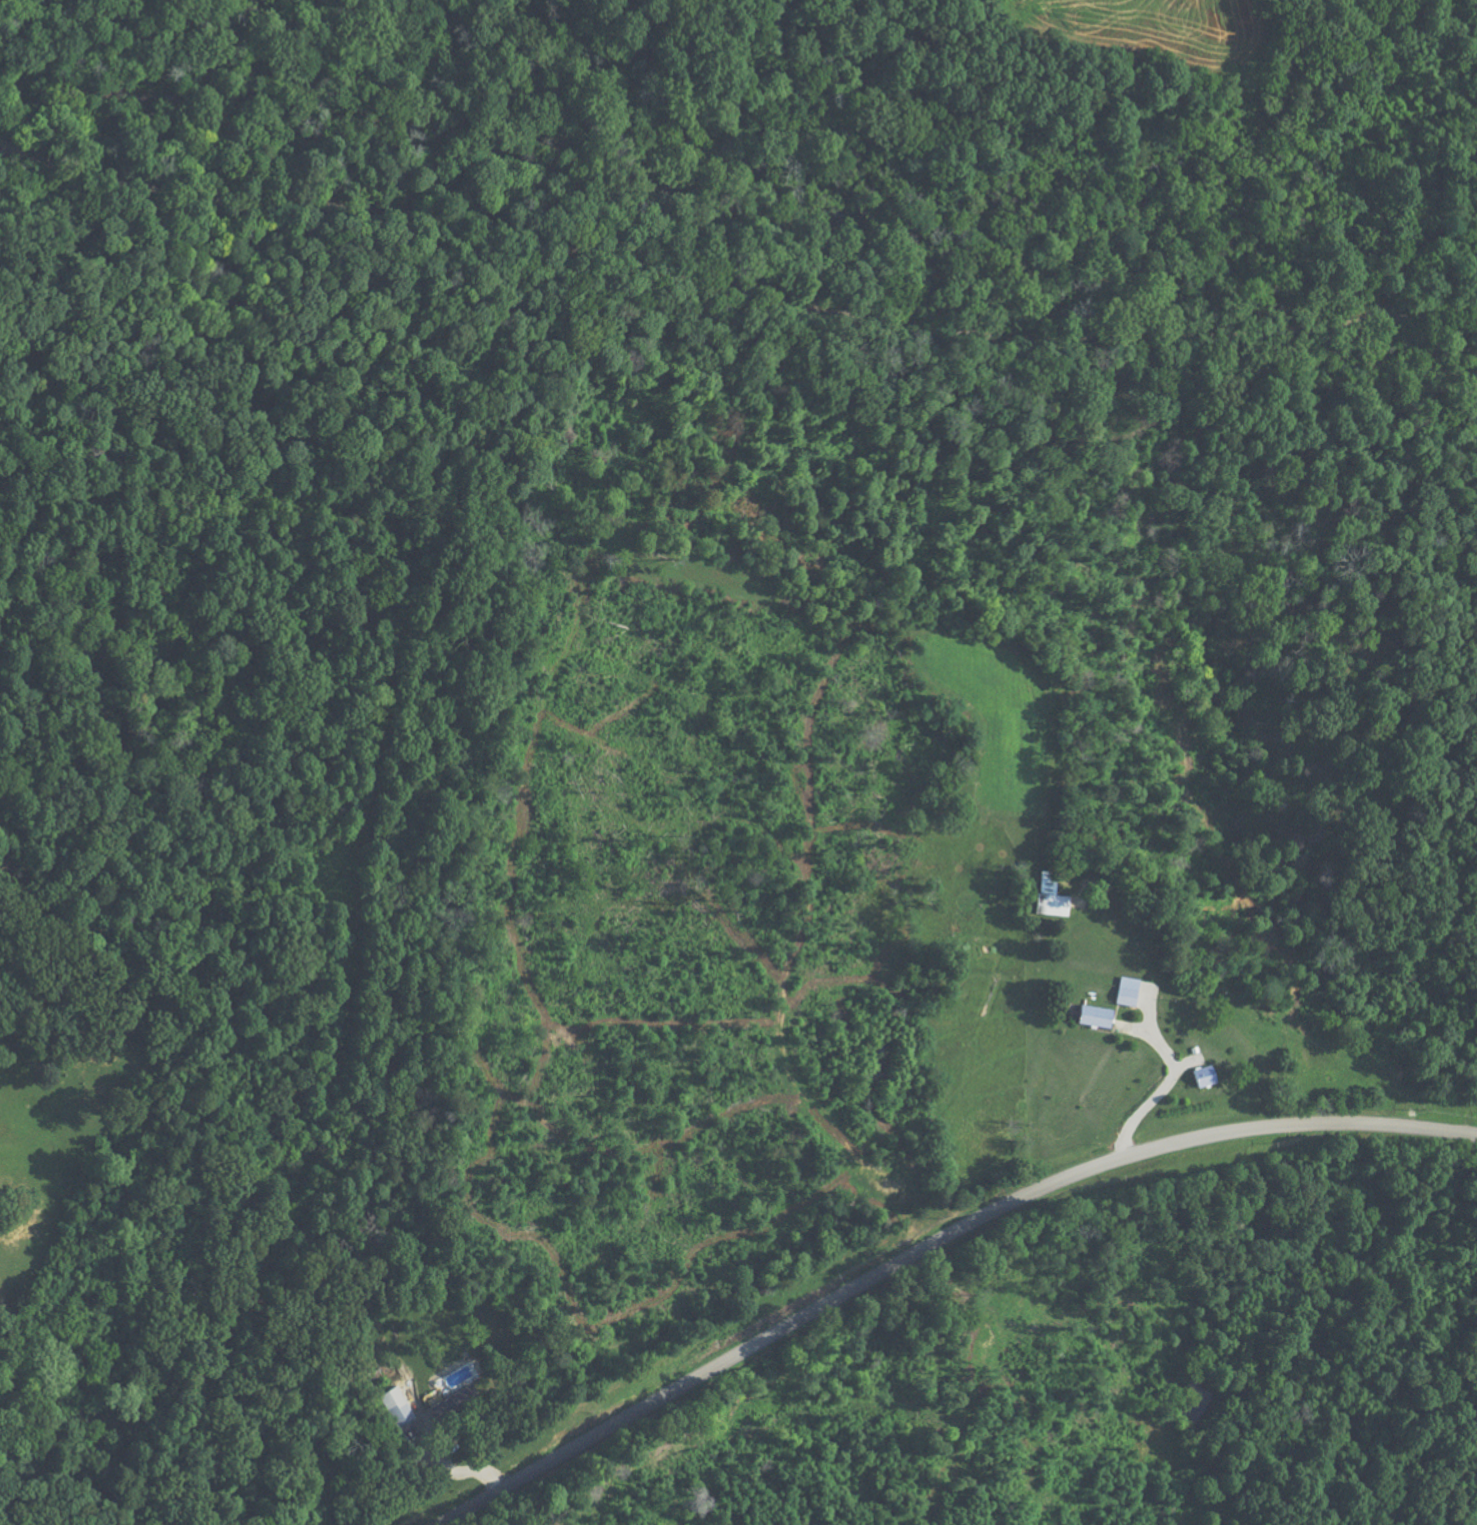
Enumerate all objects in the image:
road: (1248, 334)
road: (1169, 1085)
park: (35, 1134)
road: (931, 1245)

